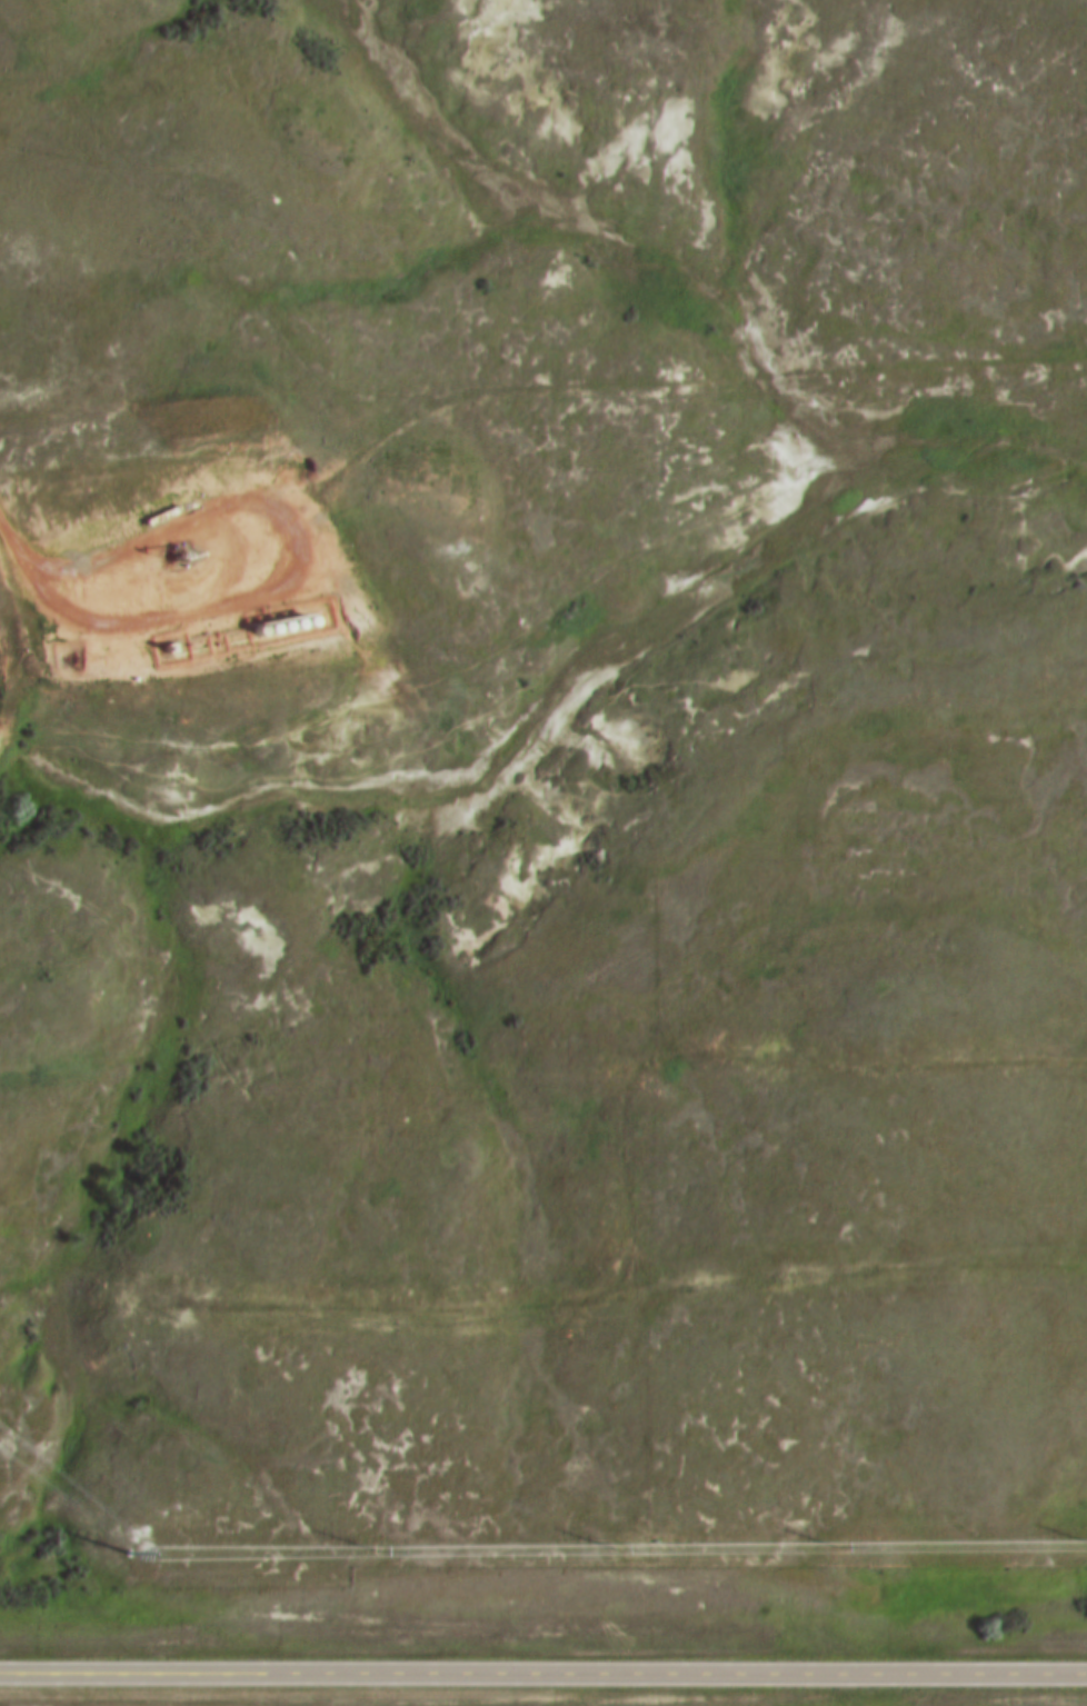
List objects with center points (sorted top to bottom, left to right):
road: (117, 545)
road: (542, 1677)

